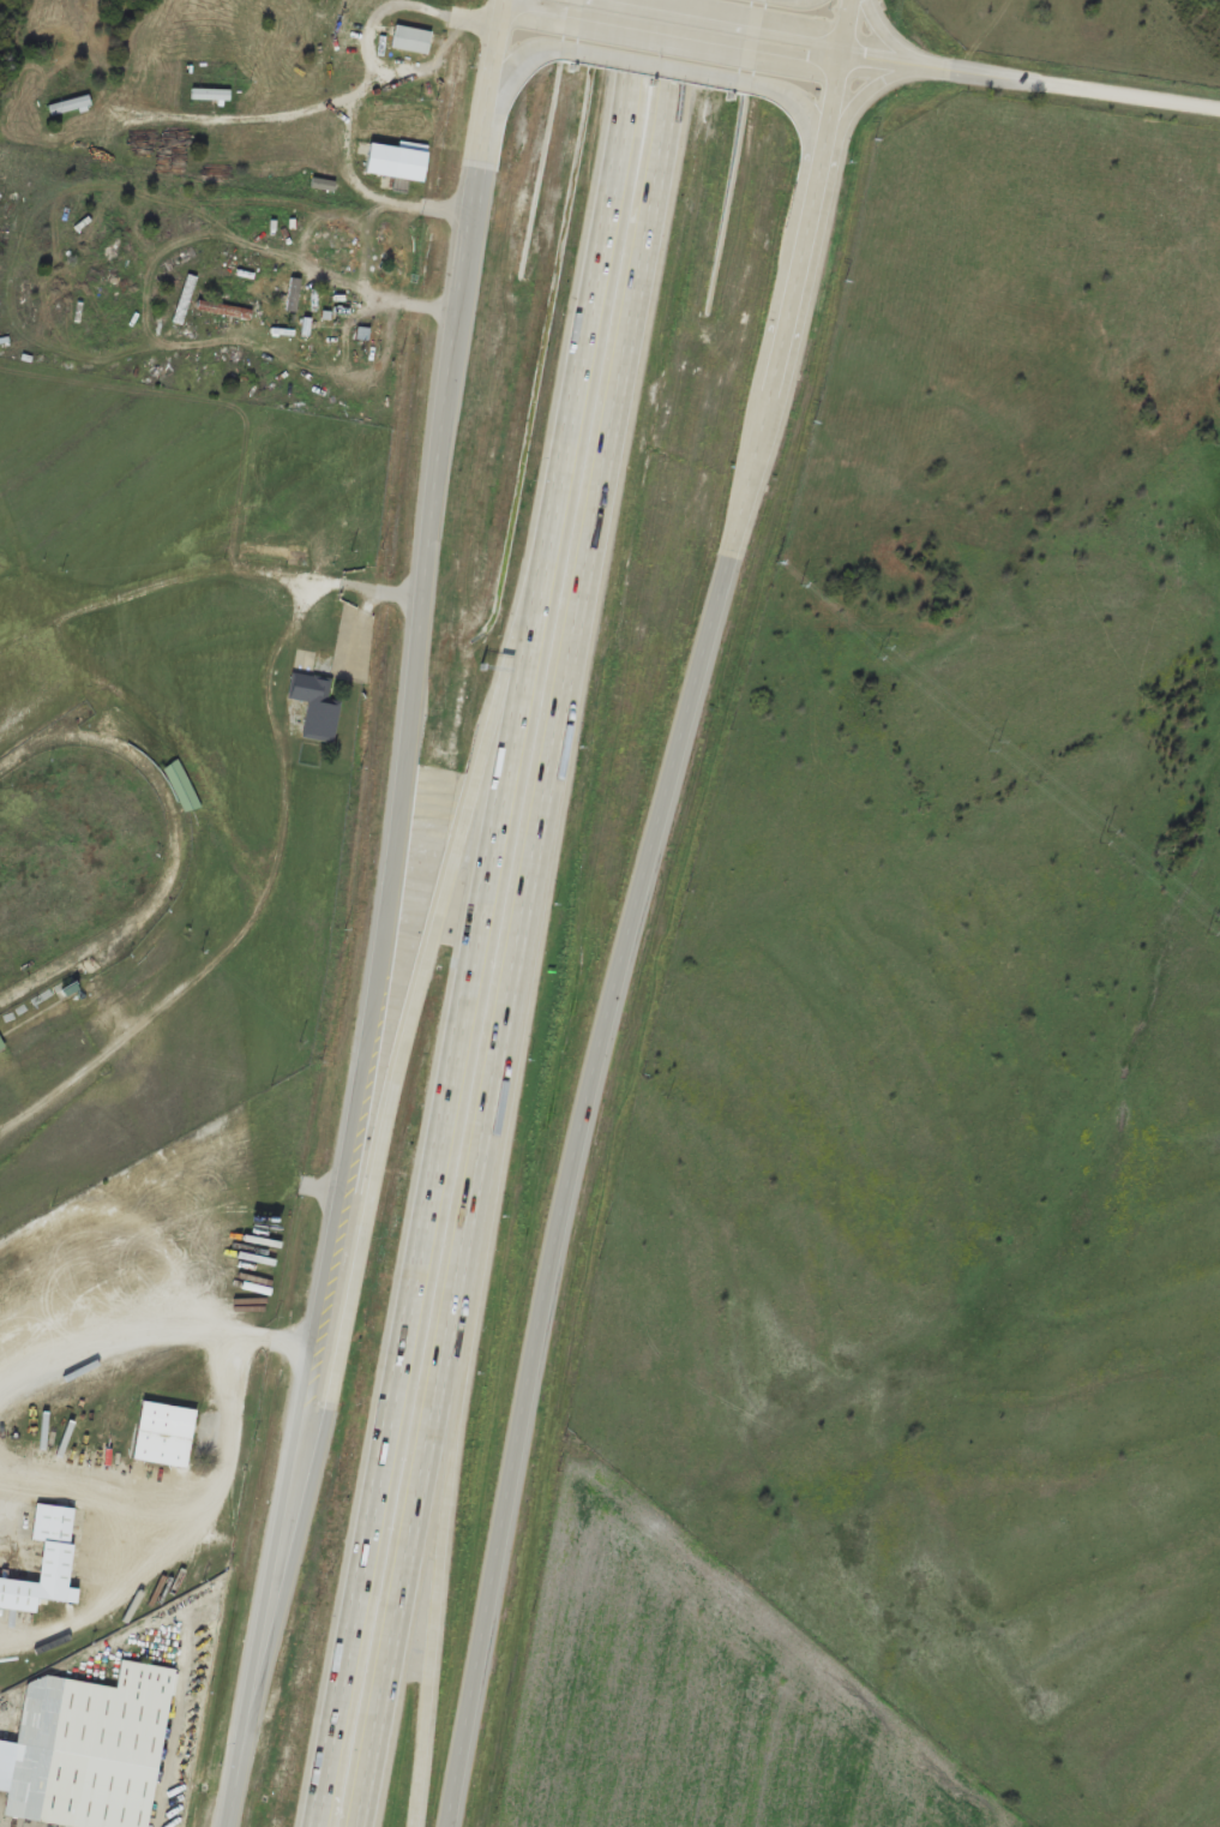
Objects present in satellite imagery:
road: (567, 0)
road: (679, 22)
building: (411, 37)
road: (813, 47)
road: (515, 62)
road: (653, 65)
road: (1030, 78)
building: (211, 92)
building: (70, 103)
road: (800, 108)
building: (399, 160)
building: (275, 550)
road: (584, 617)
building: (315, 703)
building: (180, 784)
road: (633, 909)
road: (491, 913)
road: (385, 916)
building: (1, 1043)
road: (377, 1190)
building: (164, 1432)
road: (414, 1531)
road: (447, 1531)
building: (44, 1561)
building: (5, 1707)
building: (89, 1748)

